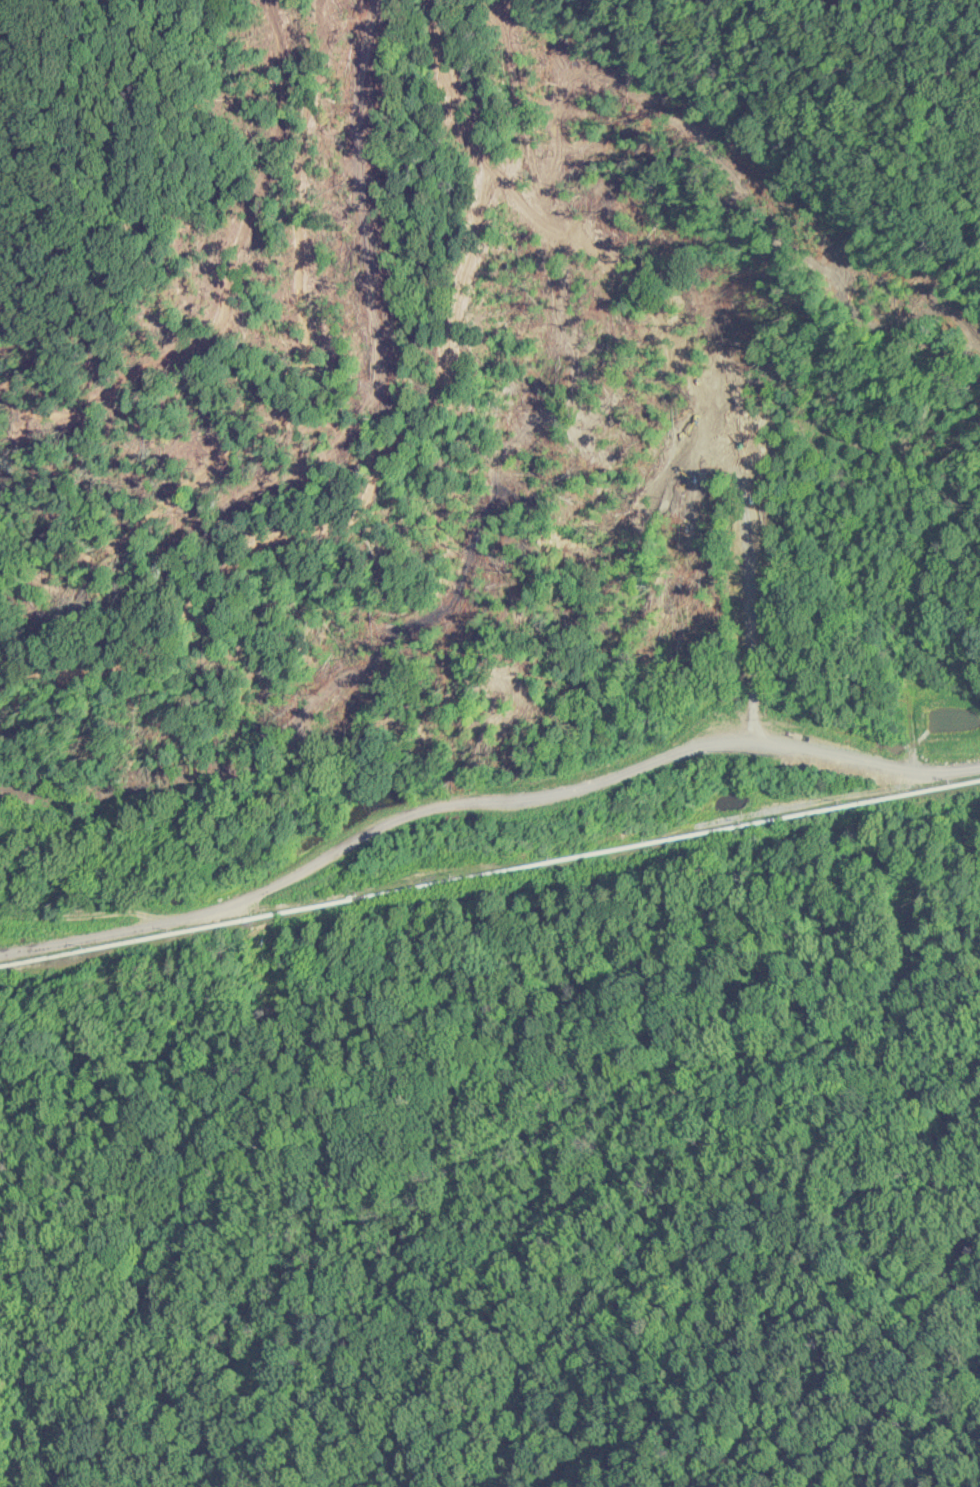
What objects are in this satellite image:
quarry: (456, 823)

